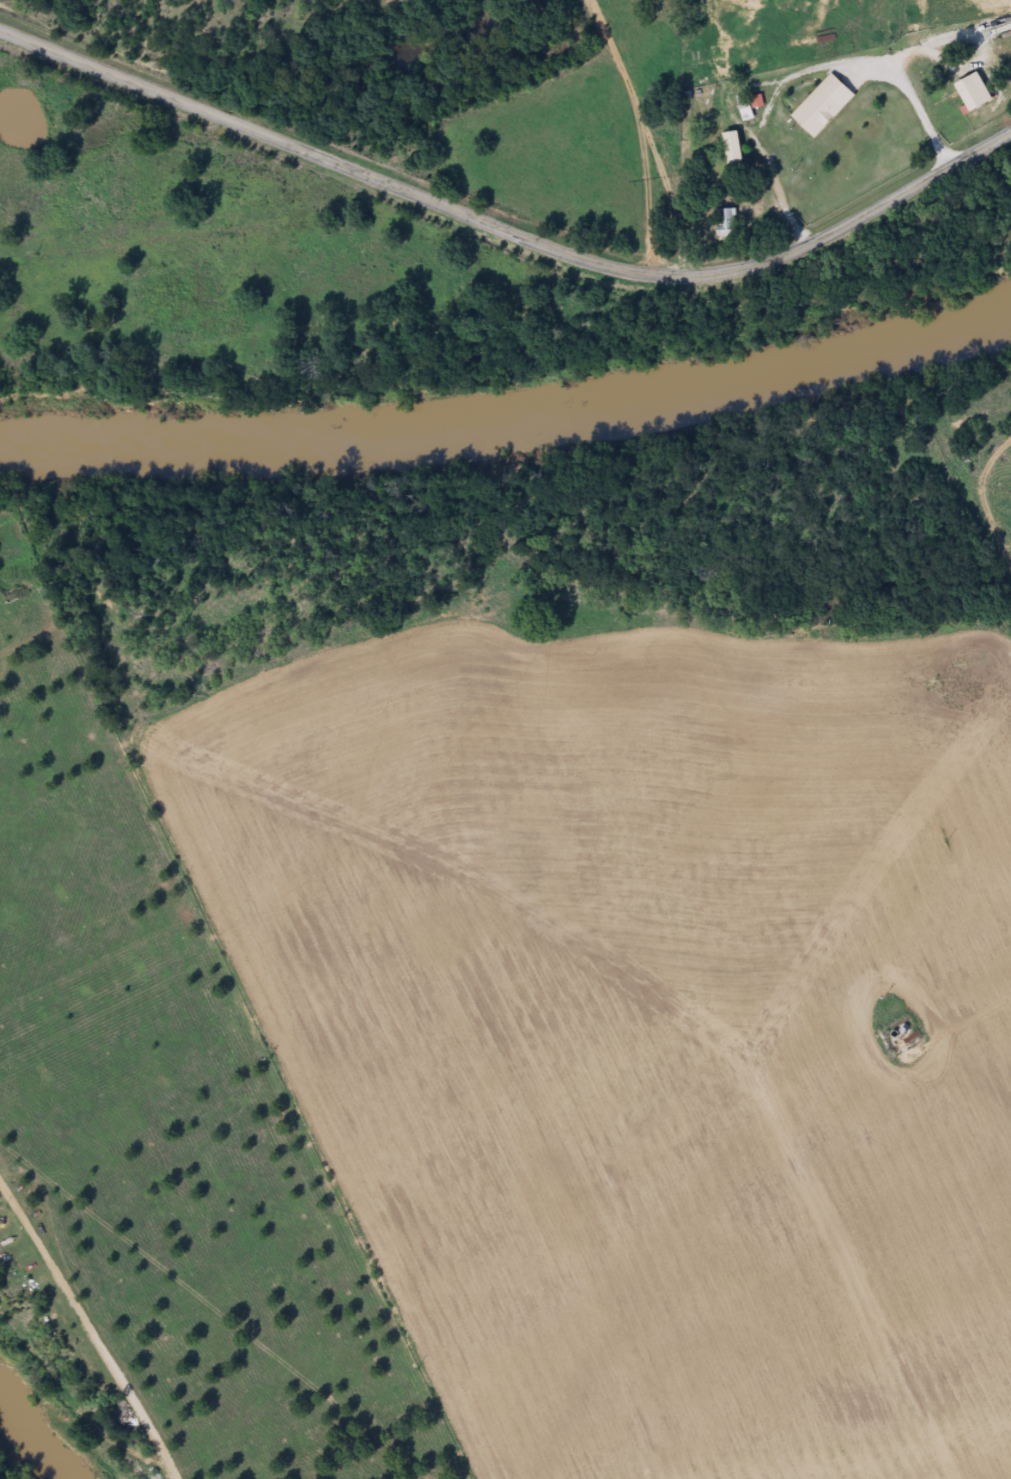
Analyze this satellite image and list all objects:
building: (749, 108)
building: (820, 114)
building: (727, 225)
road: (506, 229)
river: (510, 425)
river: (20, 1453)

